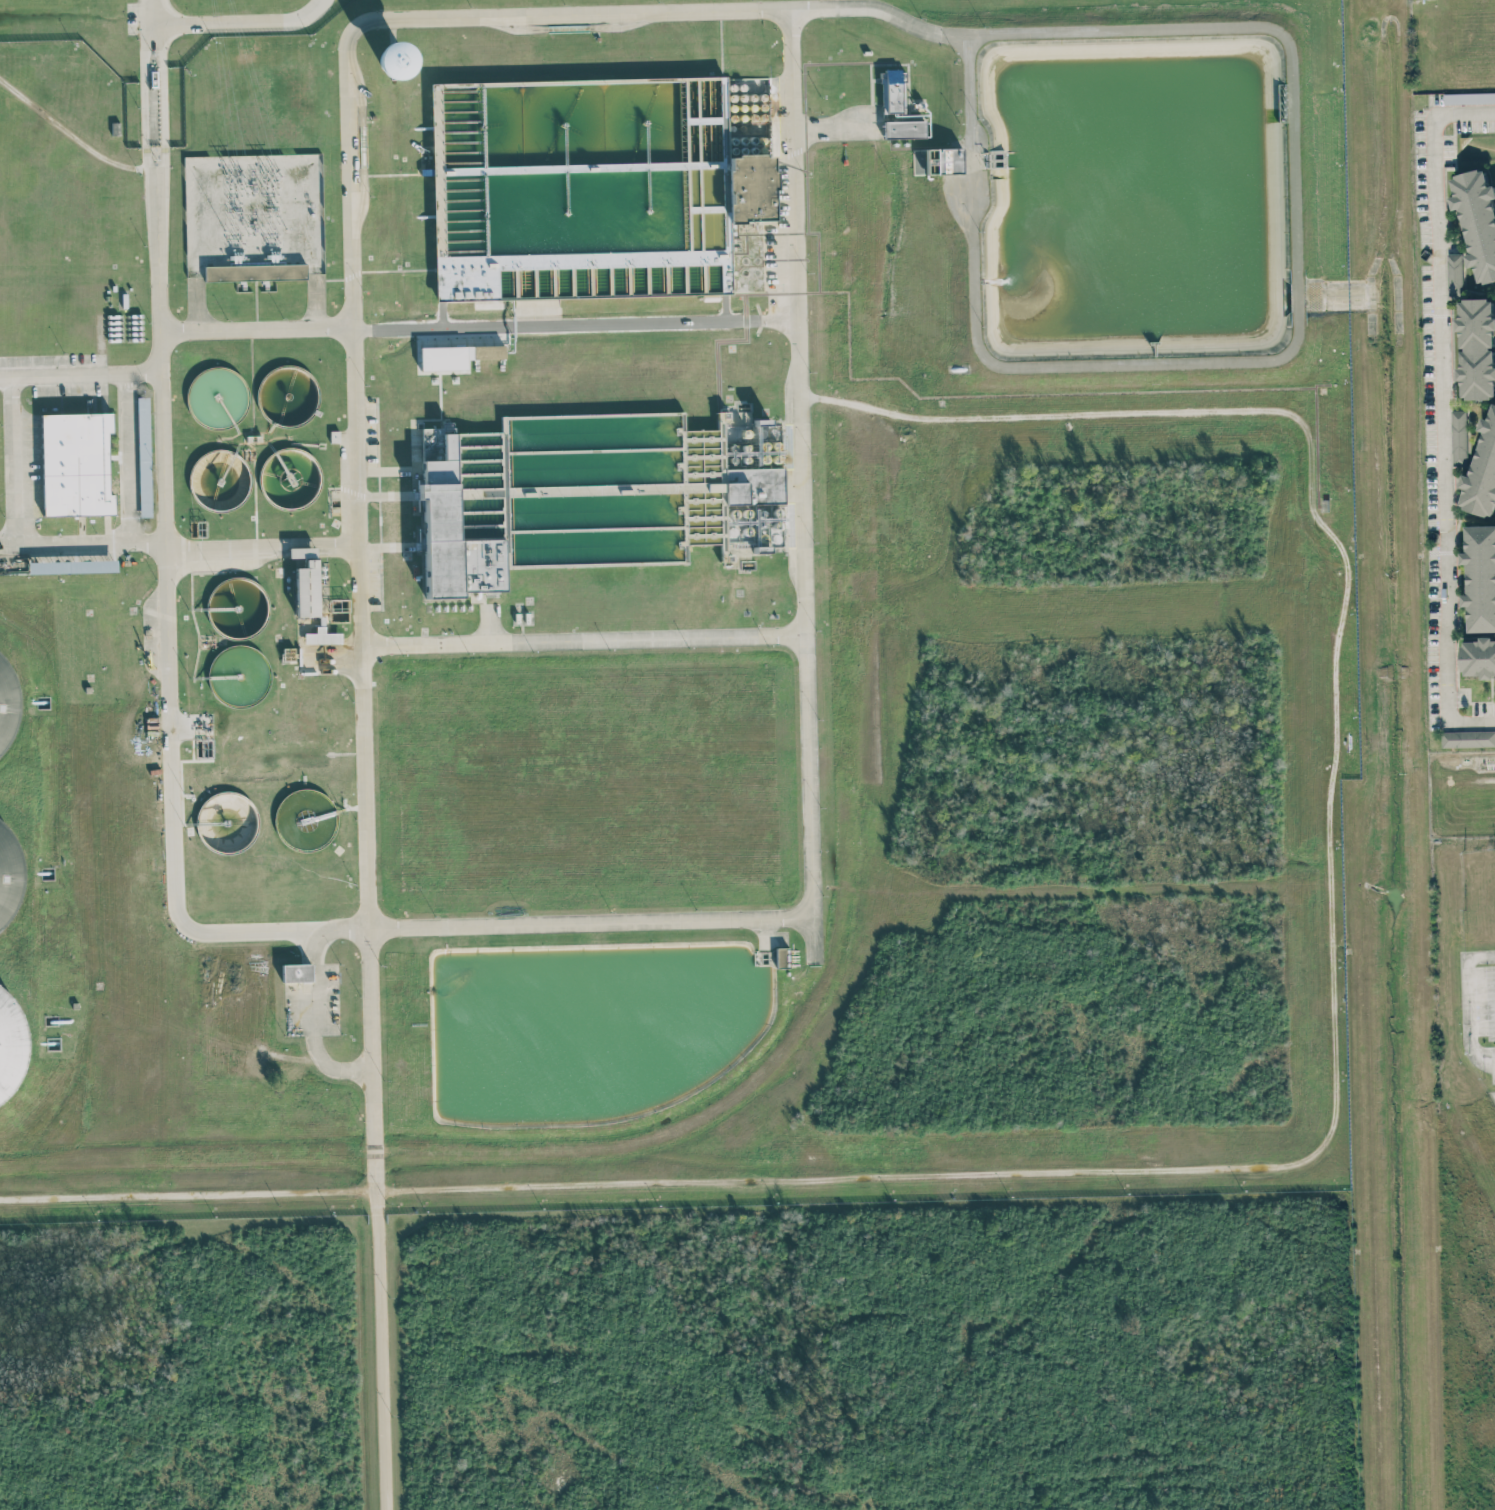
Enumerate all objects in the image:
road: (548, 4)
building: (392, 60)
building: (1469, 97)
building: (899, 110)
road: (74, 136)
building: (937, 161)
power tower: (235, 177)
power tower: (272, 177)
building: (748, 188)
power substation: (254, 213)
building: (1478, 219)
building: (255, 272)
building: (491, 272)
building: (1455, 273)
road: (487, 332)
road: (165, 347)
building: (1478, 349)
building: (456, 356)
road: (81, 376)
road: (1444, 413)
building: (1460, 437)
road: (135, 459)
building: (76, 464)
building: (1482, 472)
building: (739, 478)
road: (812, 479)
building: (451, 528)
road: (107, 543)
building: (302, 552)
building: (1481, 577)
building: (307, 589)
building: (321, 636)
road: (320, 642)
road: (590, 645)
building: (1479, 657)
building: (1468, 738)
road: (369, 755)
road: (172, 887)
road: (478, 924)
building: (782, 957)
building: (296, 972)
road: (1471, 1003)
building: (10, 1044)
road: (1283, 1167)

